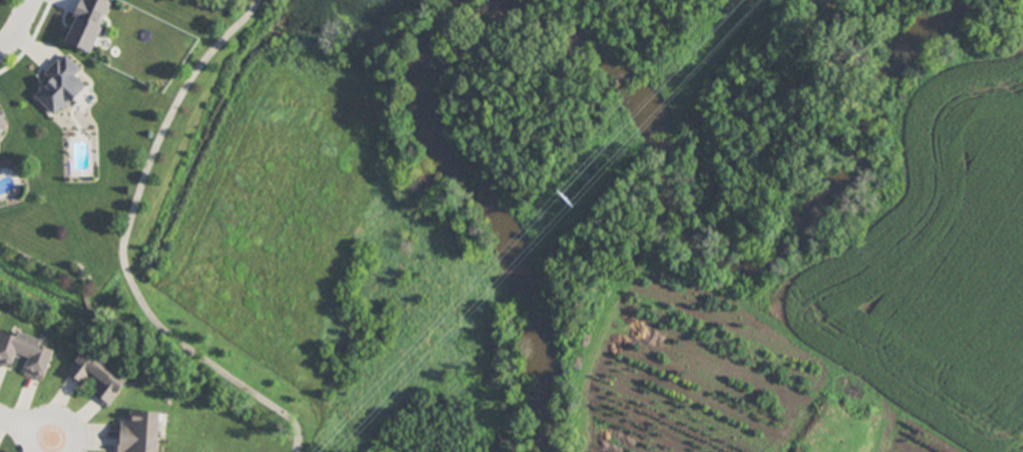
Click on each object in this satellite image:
building: (86, 23)
road: (18, 27)
river: (603, 52)
building: (62, 87)
park: (756, 94)
building: (3, 124)
power tower: (566, 200)
park: (315, 242)
crop: (931, 244)
road: (122, 246)
building: (25, 354)
building: (97, 378)
road: (26, 428)
building: (140, 433)
road: (63, 446)

